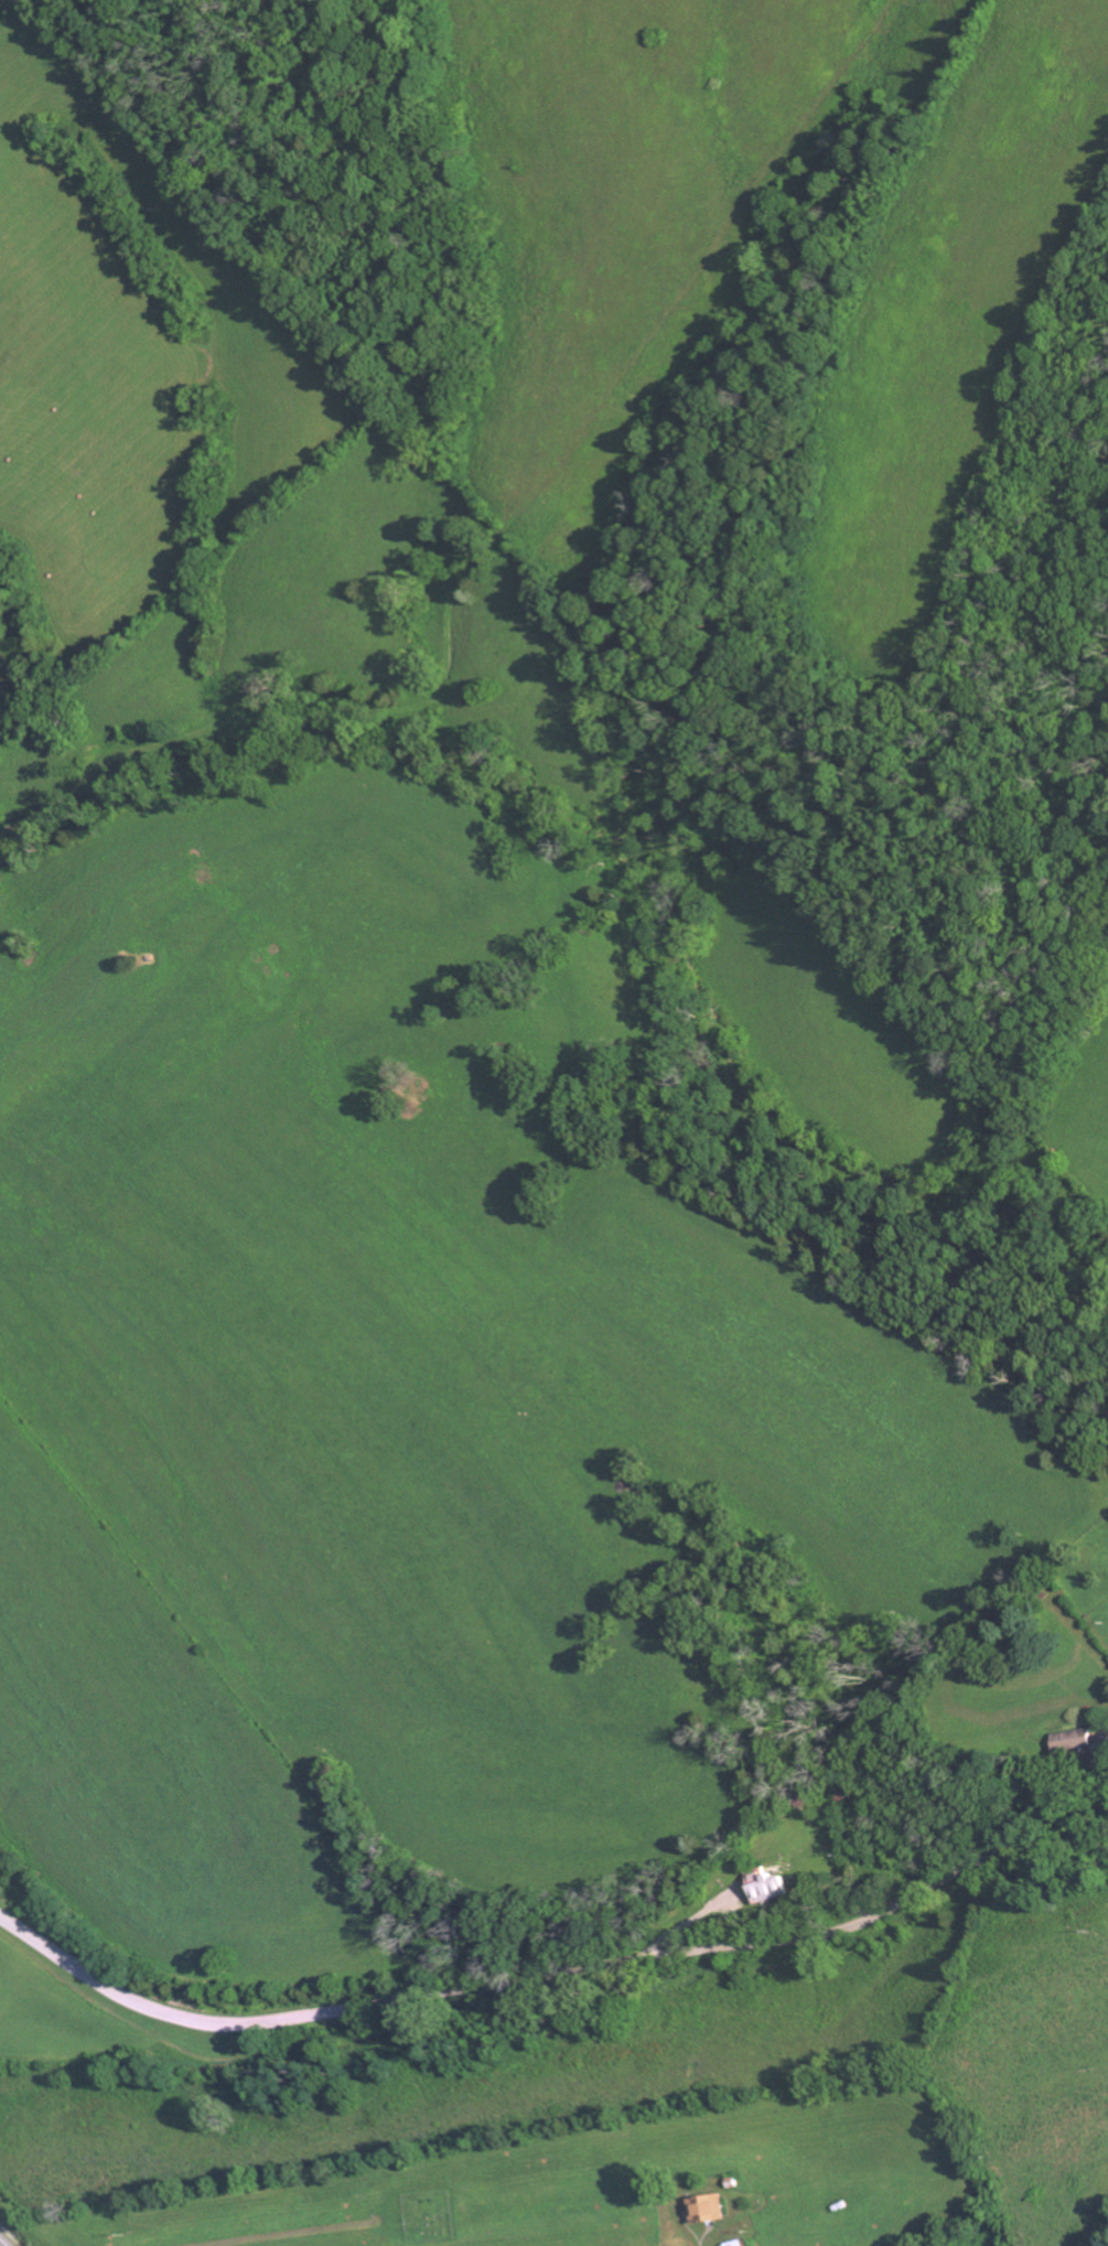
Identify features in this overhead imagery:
building: (1082, 1741)
building: (776, 1888)
road: (549, 1976)
building: (713, 2209)
building: (740, 2244)

